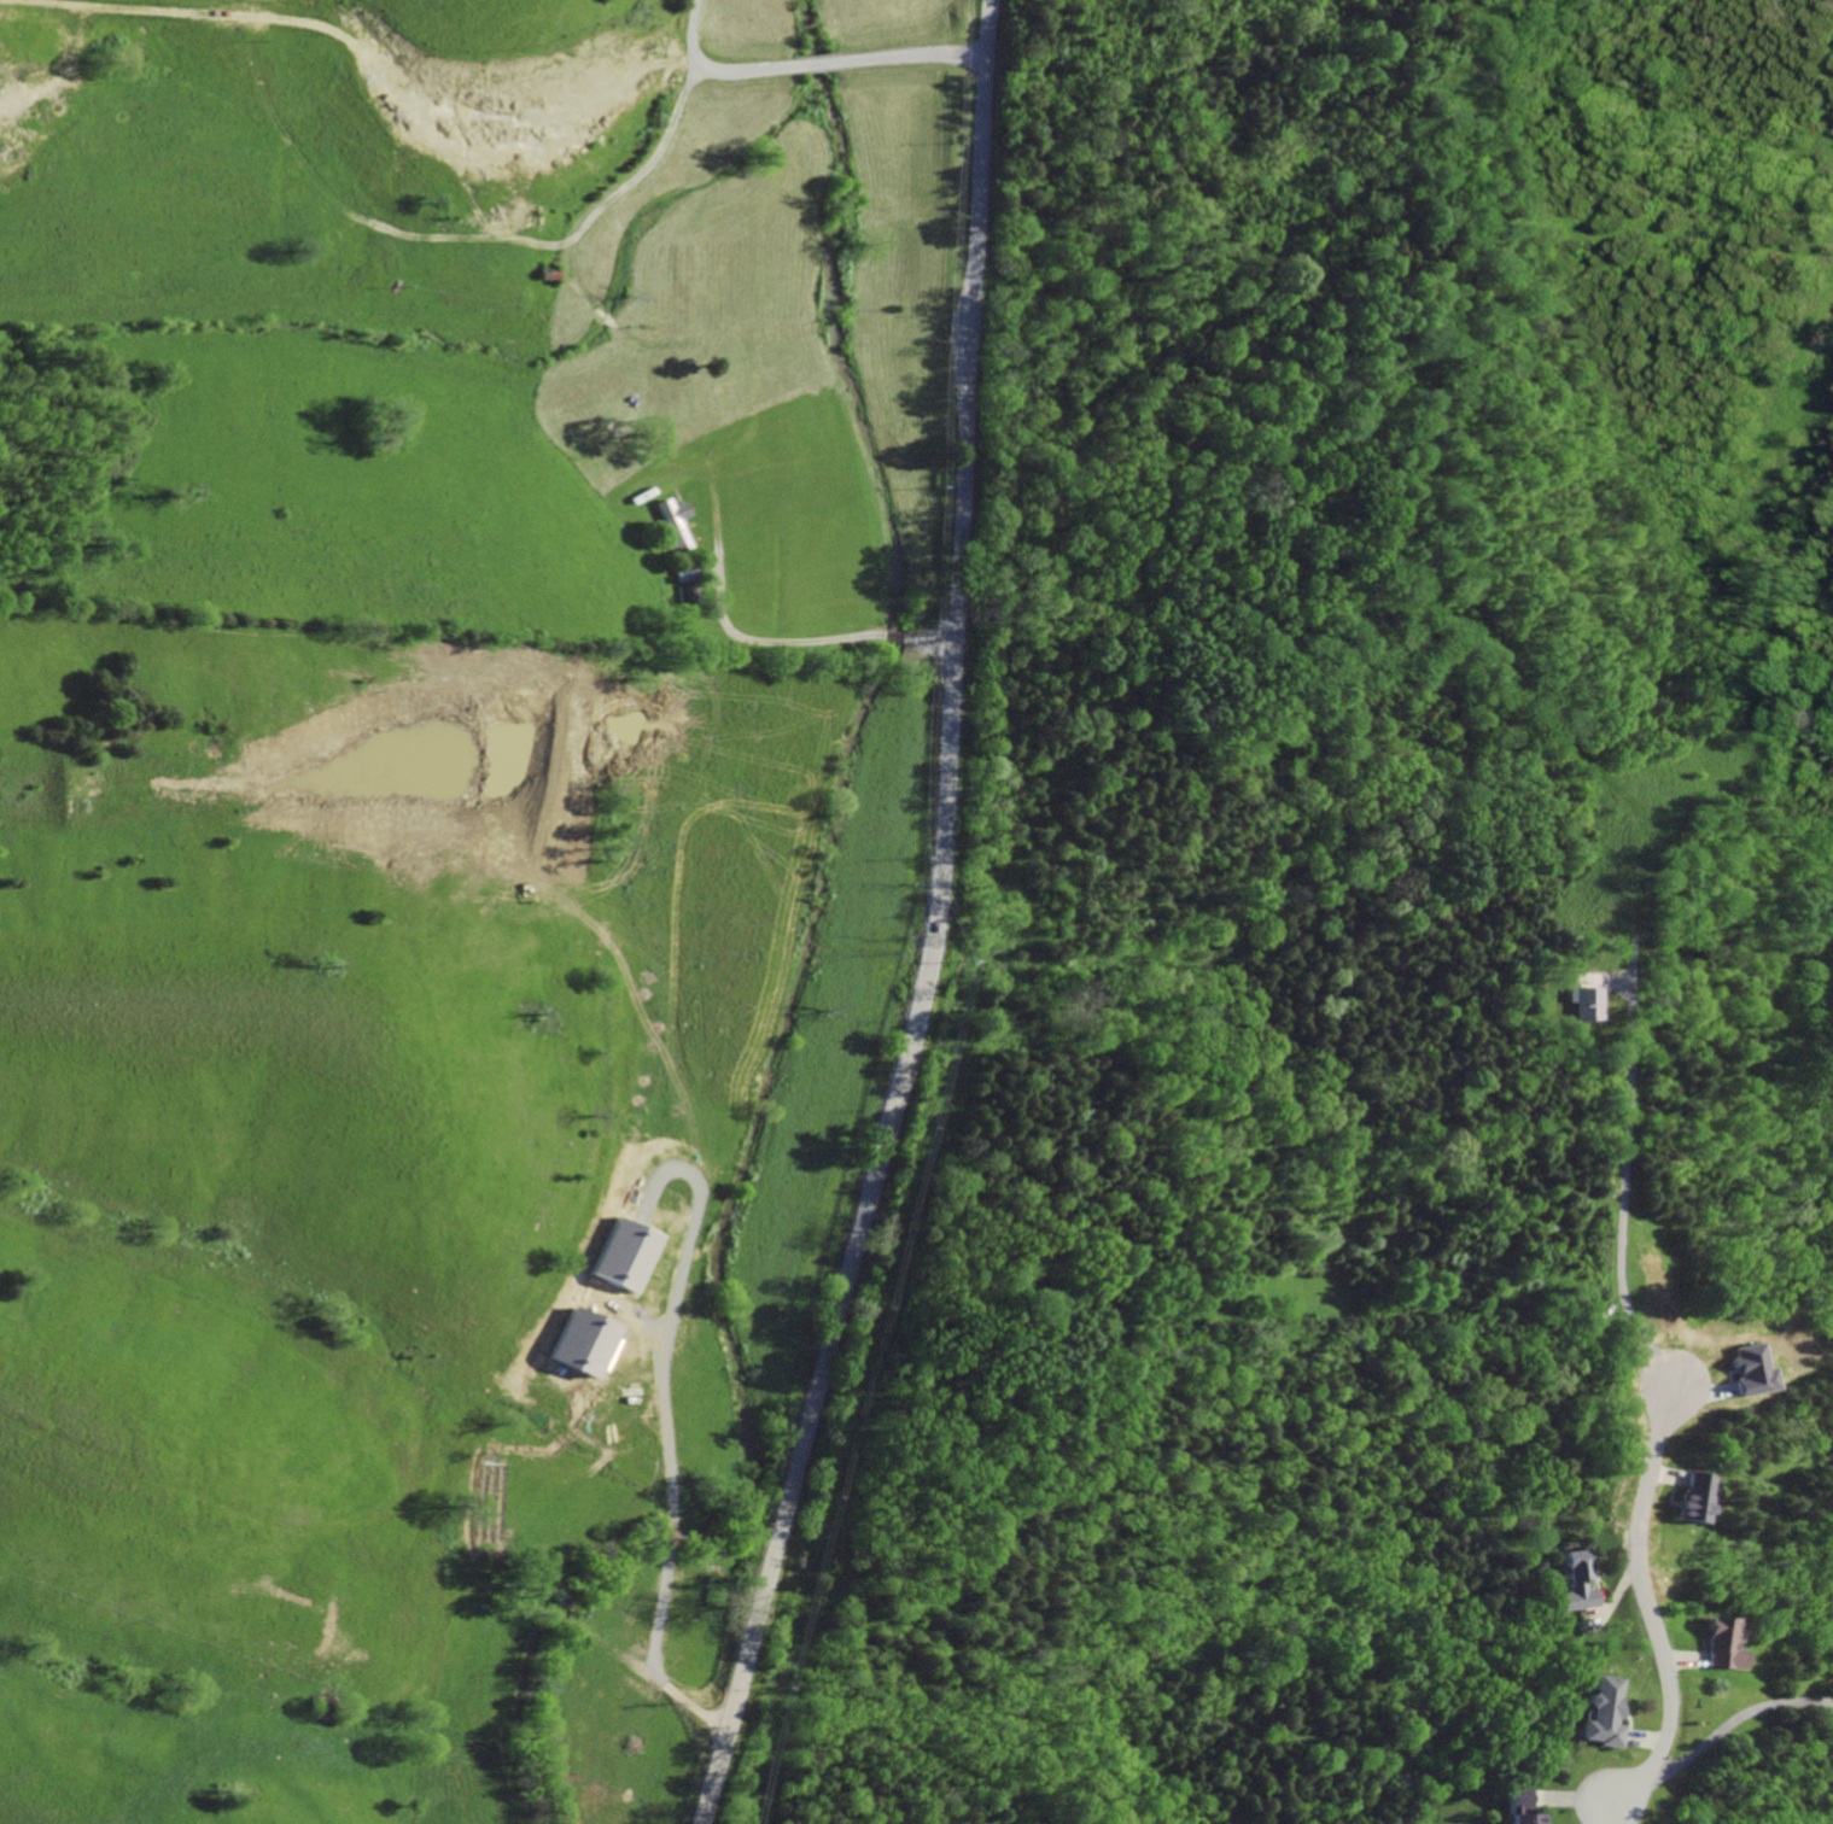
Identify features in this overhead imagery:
road: (805, 75)
building: (675, 522)
building: (688, 595)
road: (806, 641)
road: (938, 925)
building: (1582, 1002)
building: (1744, 1368)
building: (1689, 1497)
building: (1575, 1583)
road: (1651, 1631)
building: (1717, 1647)
building: (1600, 1713)
road: (629, 1715)
road: (1730, 1721)
building: (1514, 1799)
building: (1522, 1819)

